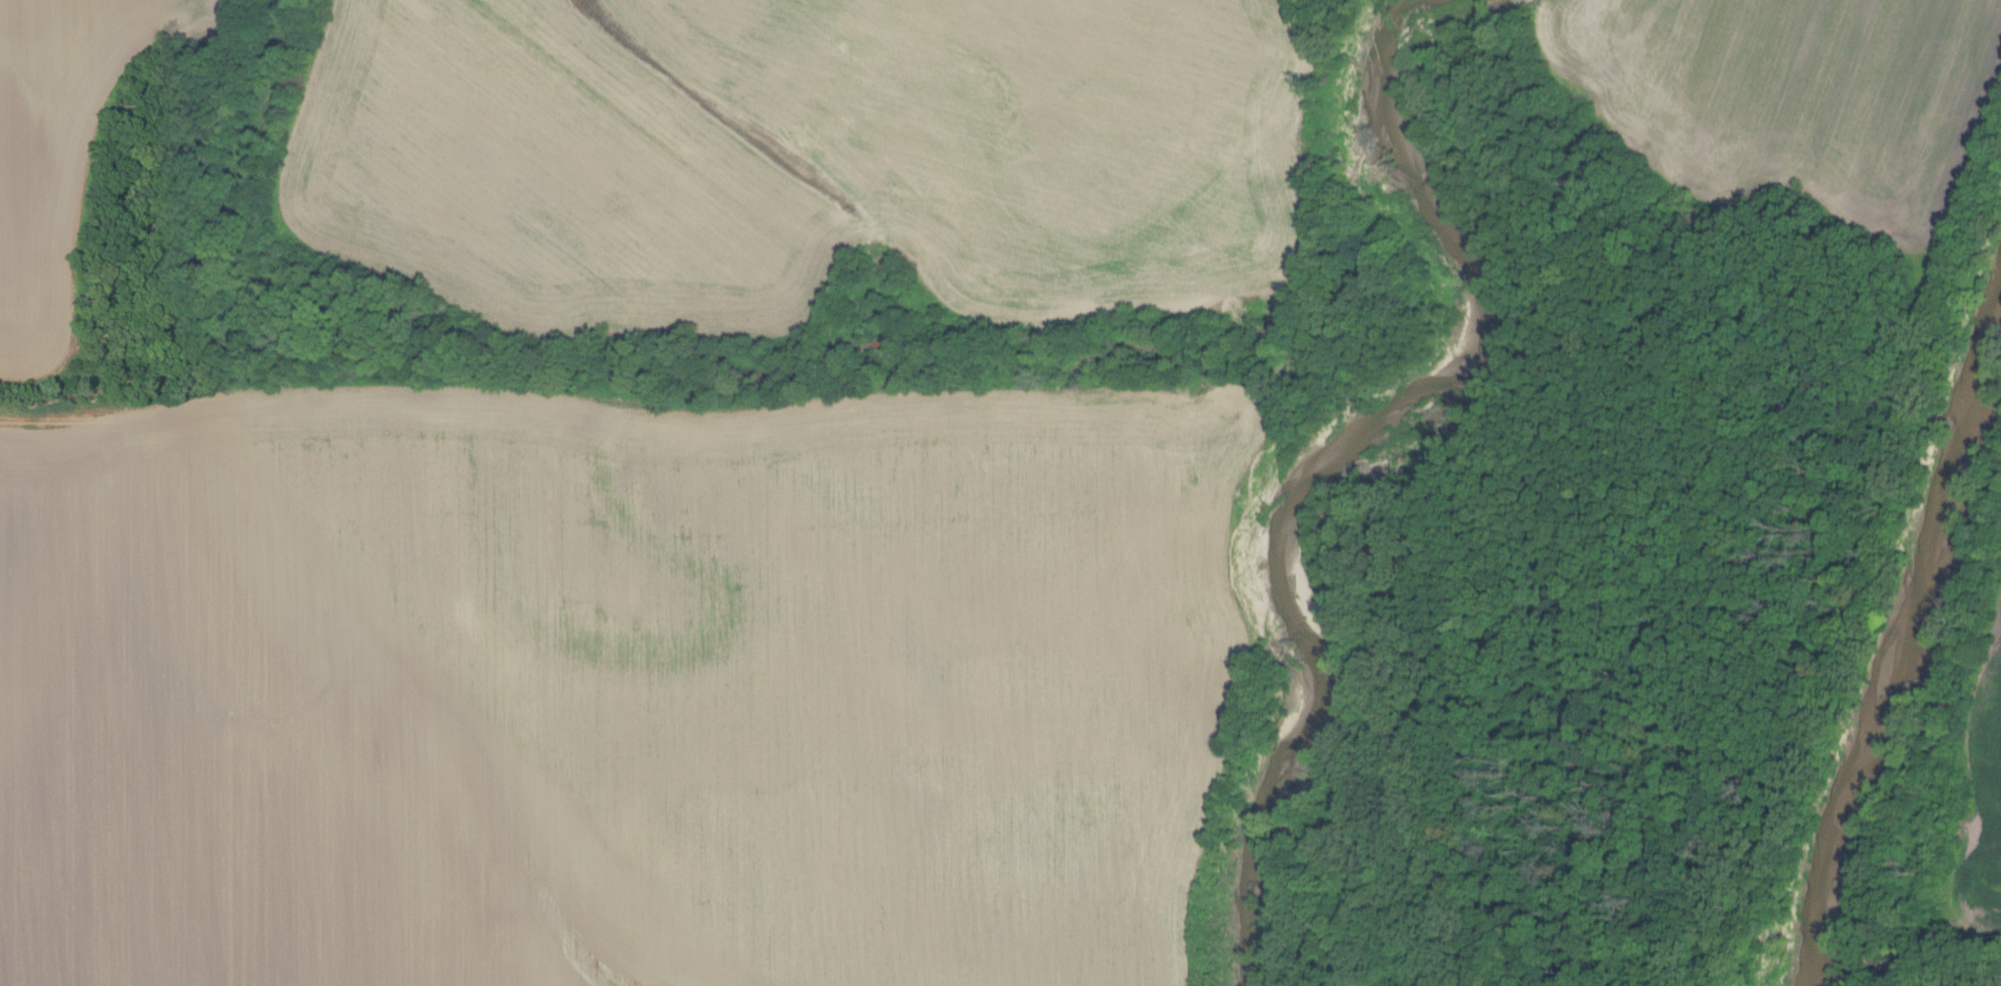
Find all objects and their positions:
river: (1331, 428)
river: (1822, 871)

